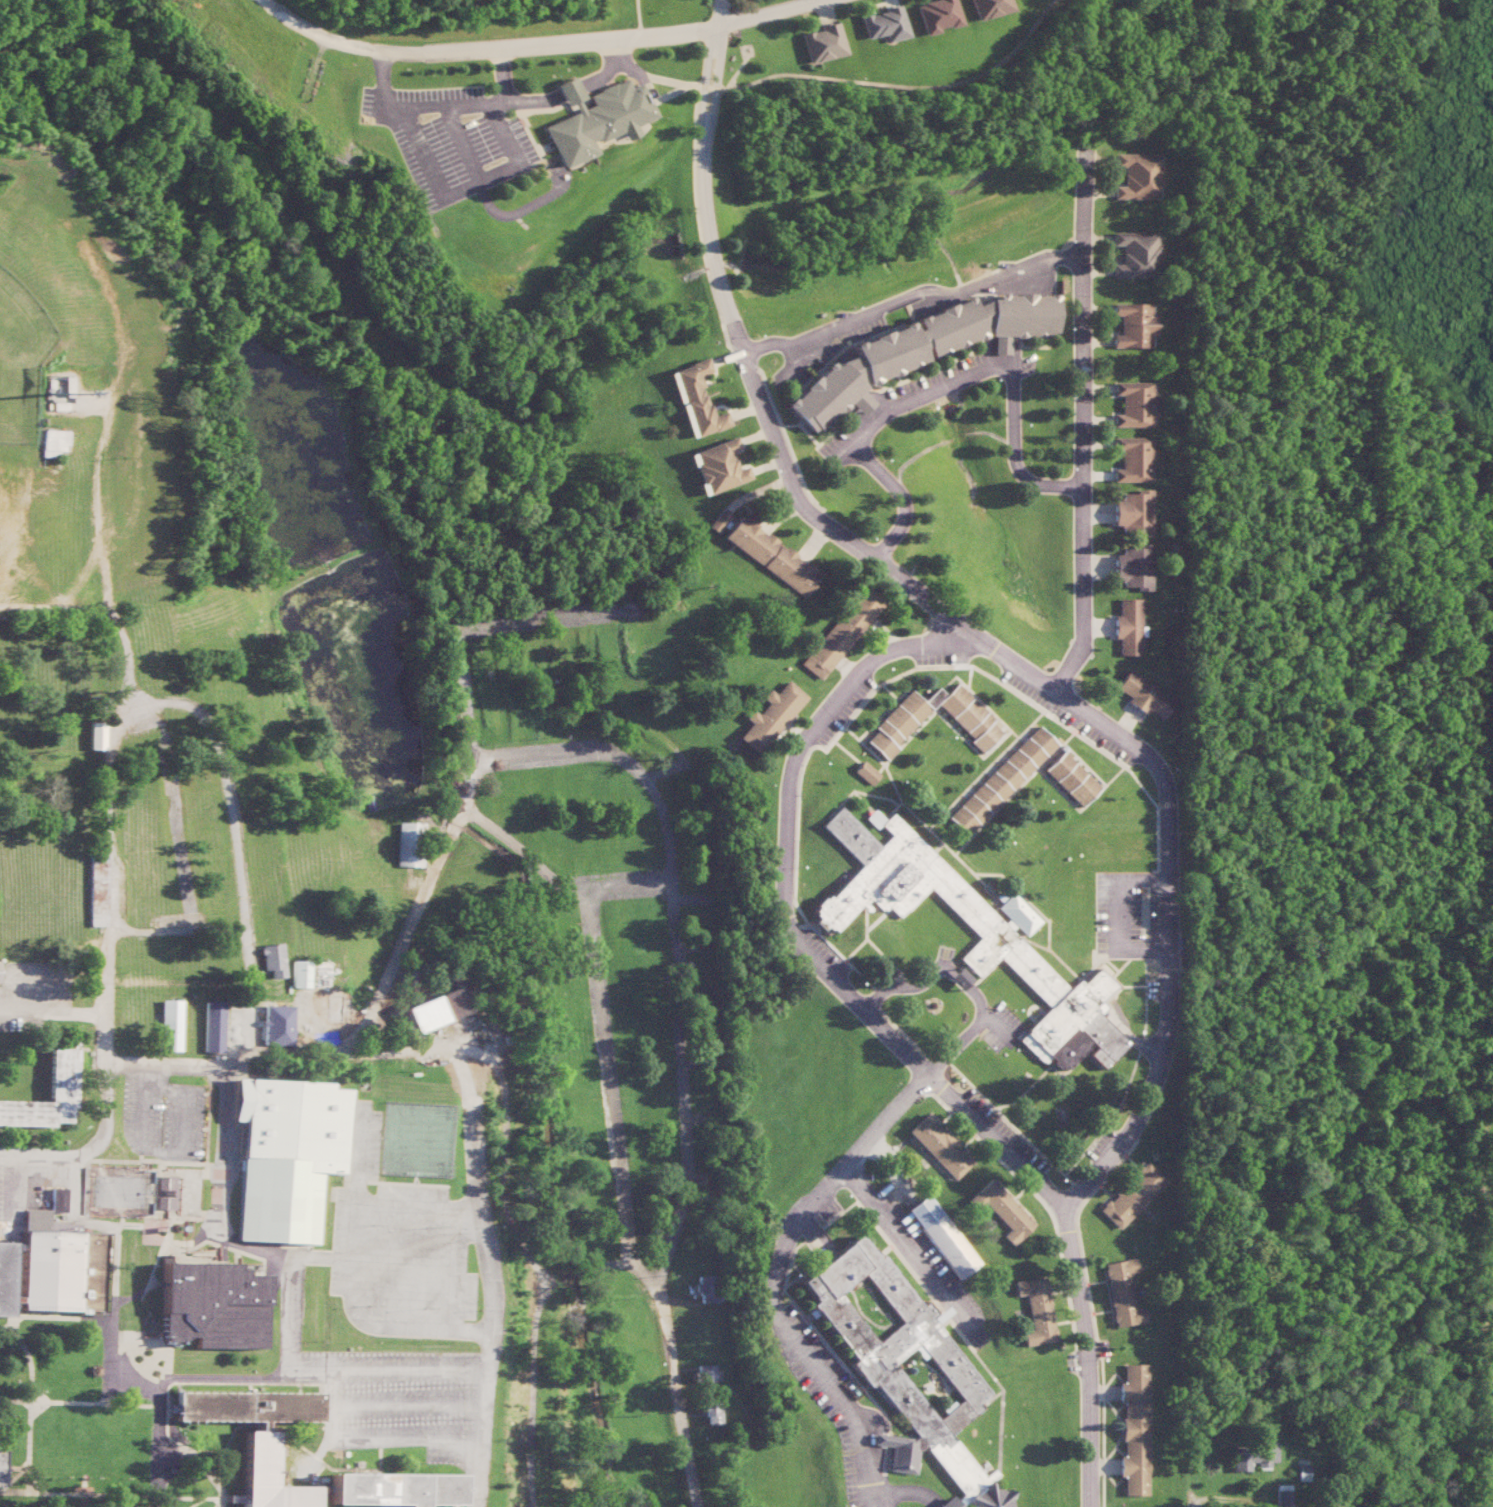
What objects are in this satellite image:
building: (985, 8)
building: (934, 15)
building: (882, 24)
building: (822, 43)
road: (539, 44)
road: (444, 105)
building: (595, 118)
building: (1139, 176)
road: (699, 179)
building: (1138, 254)
road: (912, 305)
building: (1135, 324)
building: (919, 348)
park: (19, 358)
road: (939, 388)
building: (695, 399)
building: (1135, 404)
road: (1082, 418)
building: (1133, 458)
building: (718, 466)
building: (1134, 512)
building: (719, 520)
road: (818, 521)
building: (771, 556)
building: (1134, 567)
building: (1127, 626)
building: (841, 632)
road: (850, 672)
building: (1143, 694)
building: (770, 716)
building: (968, 716)
building: (92, 735)
road: (795, 735)
building: (865, 772)
building: (1070, 778)
building: (1000, 780)
building: (873, 818)
building: (408, 844)
road: (542, 868)
road: (624, 890)
road: (1115, 914)
road: (784, 924)
building: (1002, 935)
building: (271, 959)
building: (297, 973)
building: (957, 978)
road: (958, 978)
road: (907, 985)
road: (12, 1004)
building: (433, 1009)
building: (168, 1025)
building: (275, 1025)
building: (211, 1026)
road: (969, 1031)
road: (1164, 1038)
road: (682, 1049)
building: (938, 1146)
road: (36, 1152)
building: (283, 1155)
building: (165, 1192)
building: (1131, 1195)
building: (57, 1200)
building: (1001, 1210)
building: (942, 1236)
road: (911, 1253)
building: (60, 1265)
road: (776, 1277)
building: (3, 1278)
building: (706, 1288)
building: (1121, 1293)
building: (209, 1305)
building: (1035, 1310)
building: (904, 1365)
building: (707, 1372)
building: (712, 1413)
building: (1134, 1428)
building: (255, 1437)
road: (157, 1438)
building: (163, 1450)
building: (1251, 1455)
building: (0, 1459)
building: (391, 1489)
building: (1282, 1495)
building: (1154, 1506)

